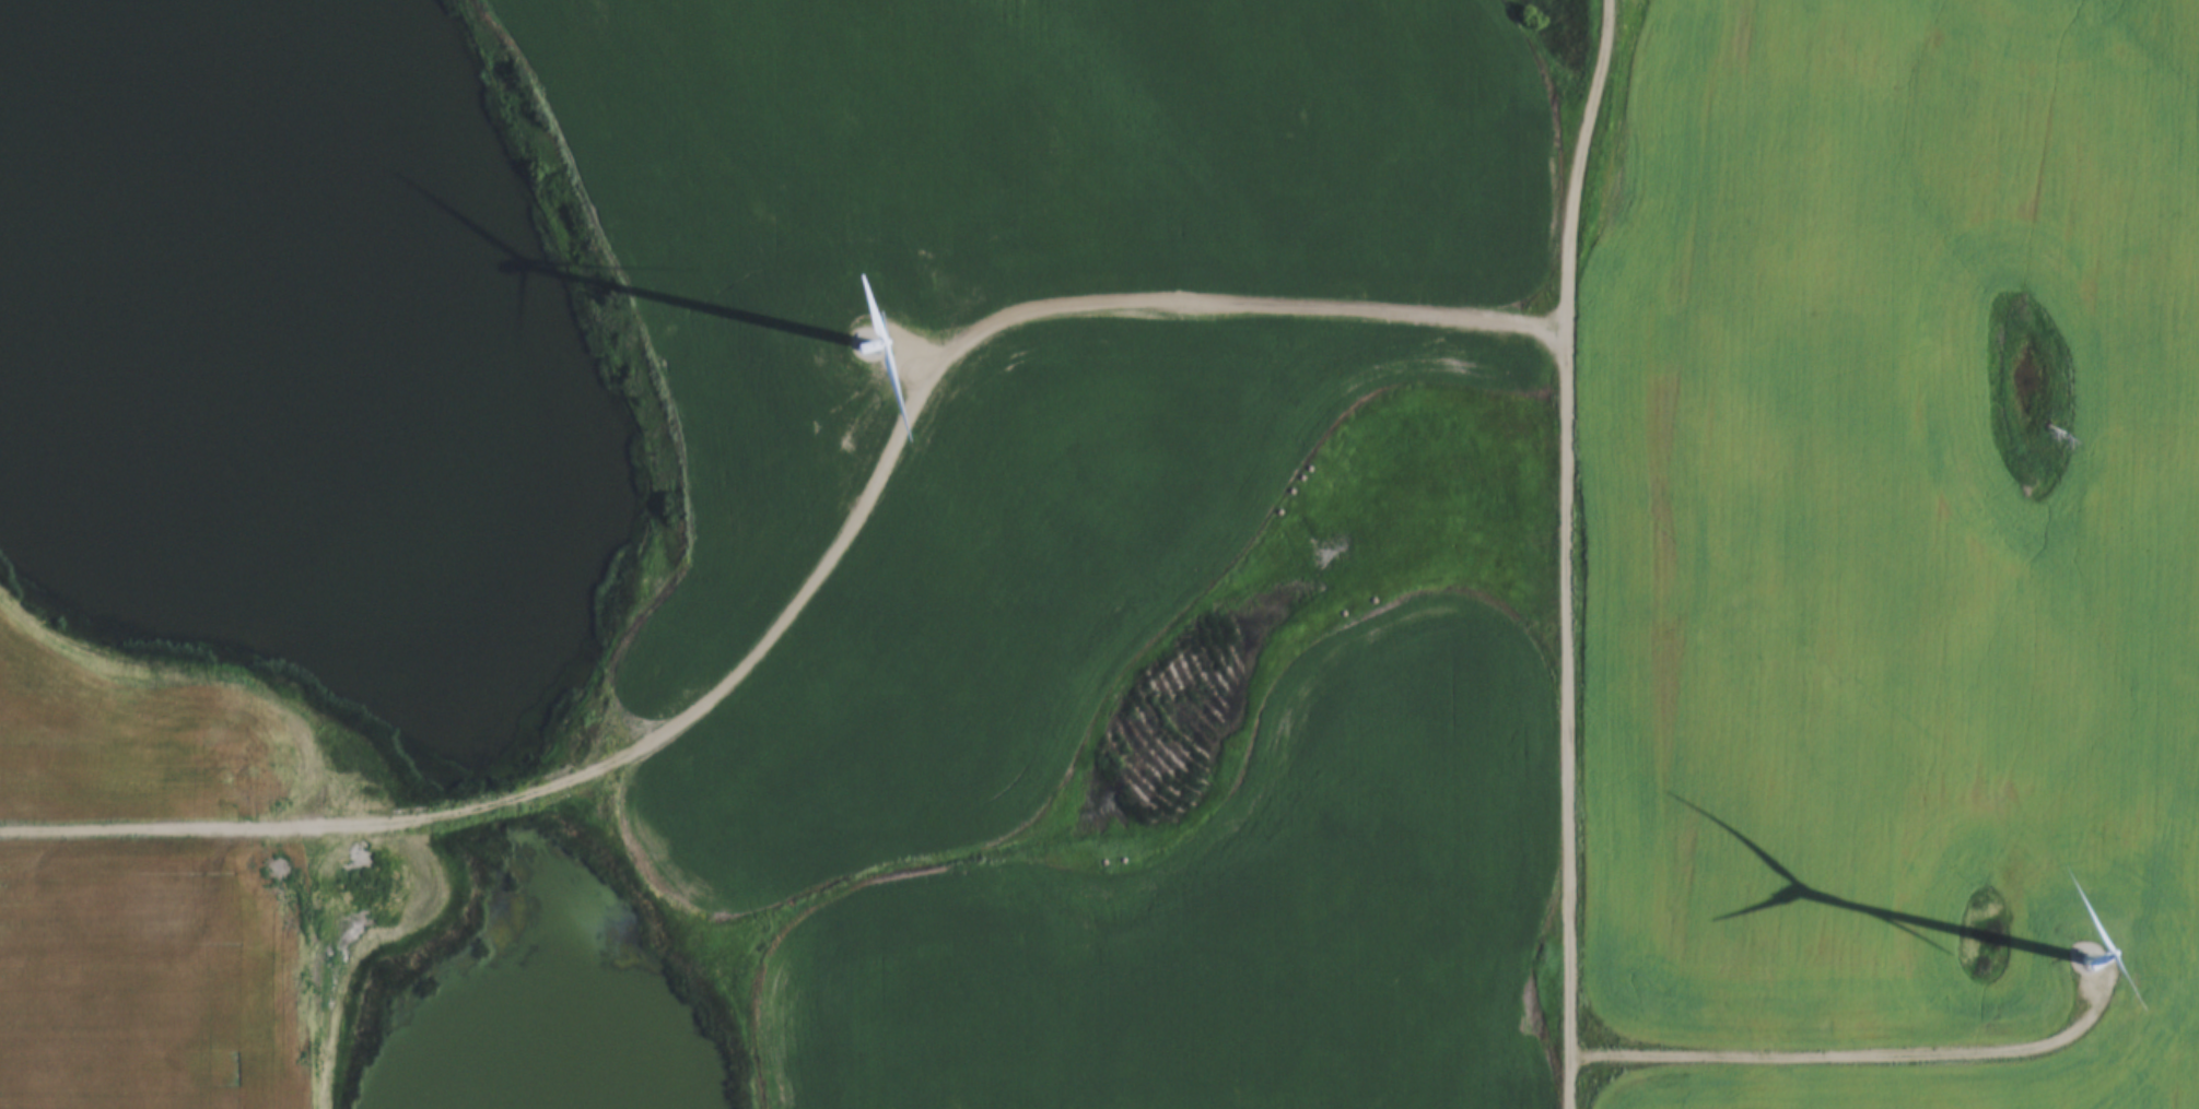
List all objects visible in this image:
wind turbine: (875, 346)
road: (1564, 553)
road: (796, 557)
wind turbine: (2091, 961)
road: (1829, 1050)

